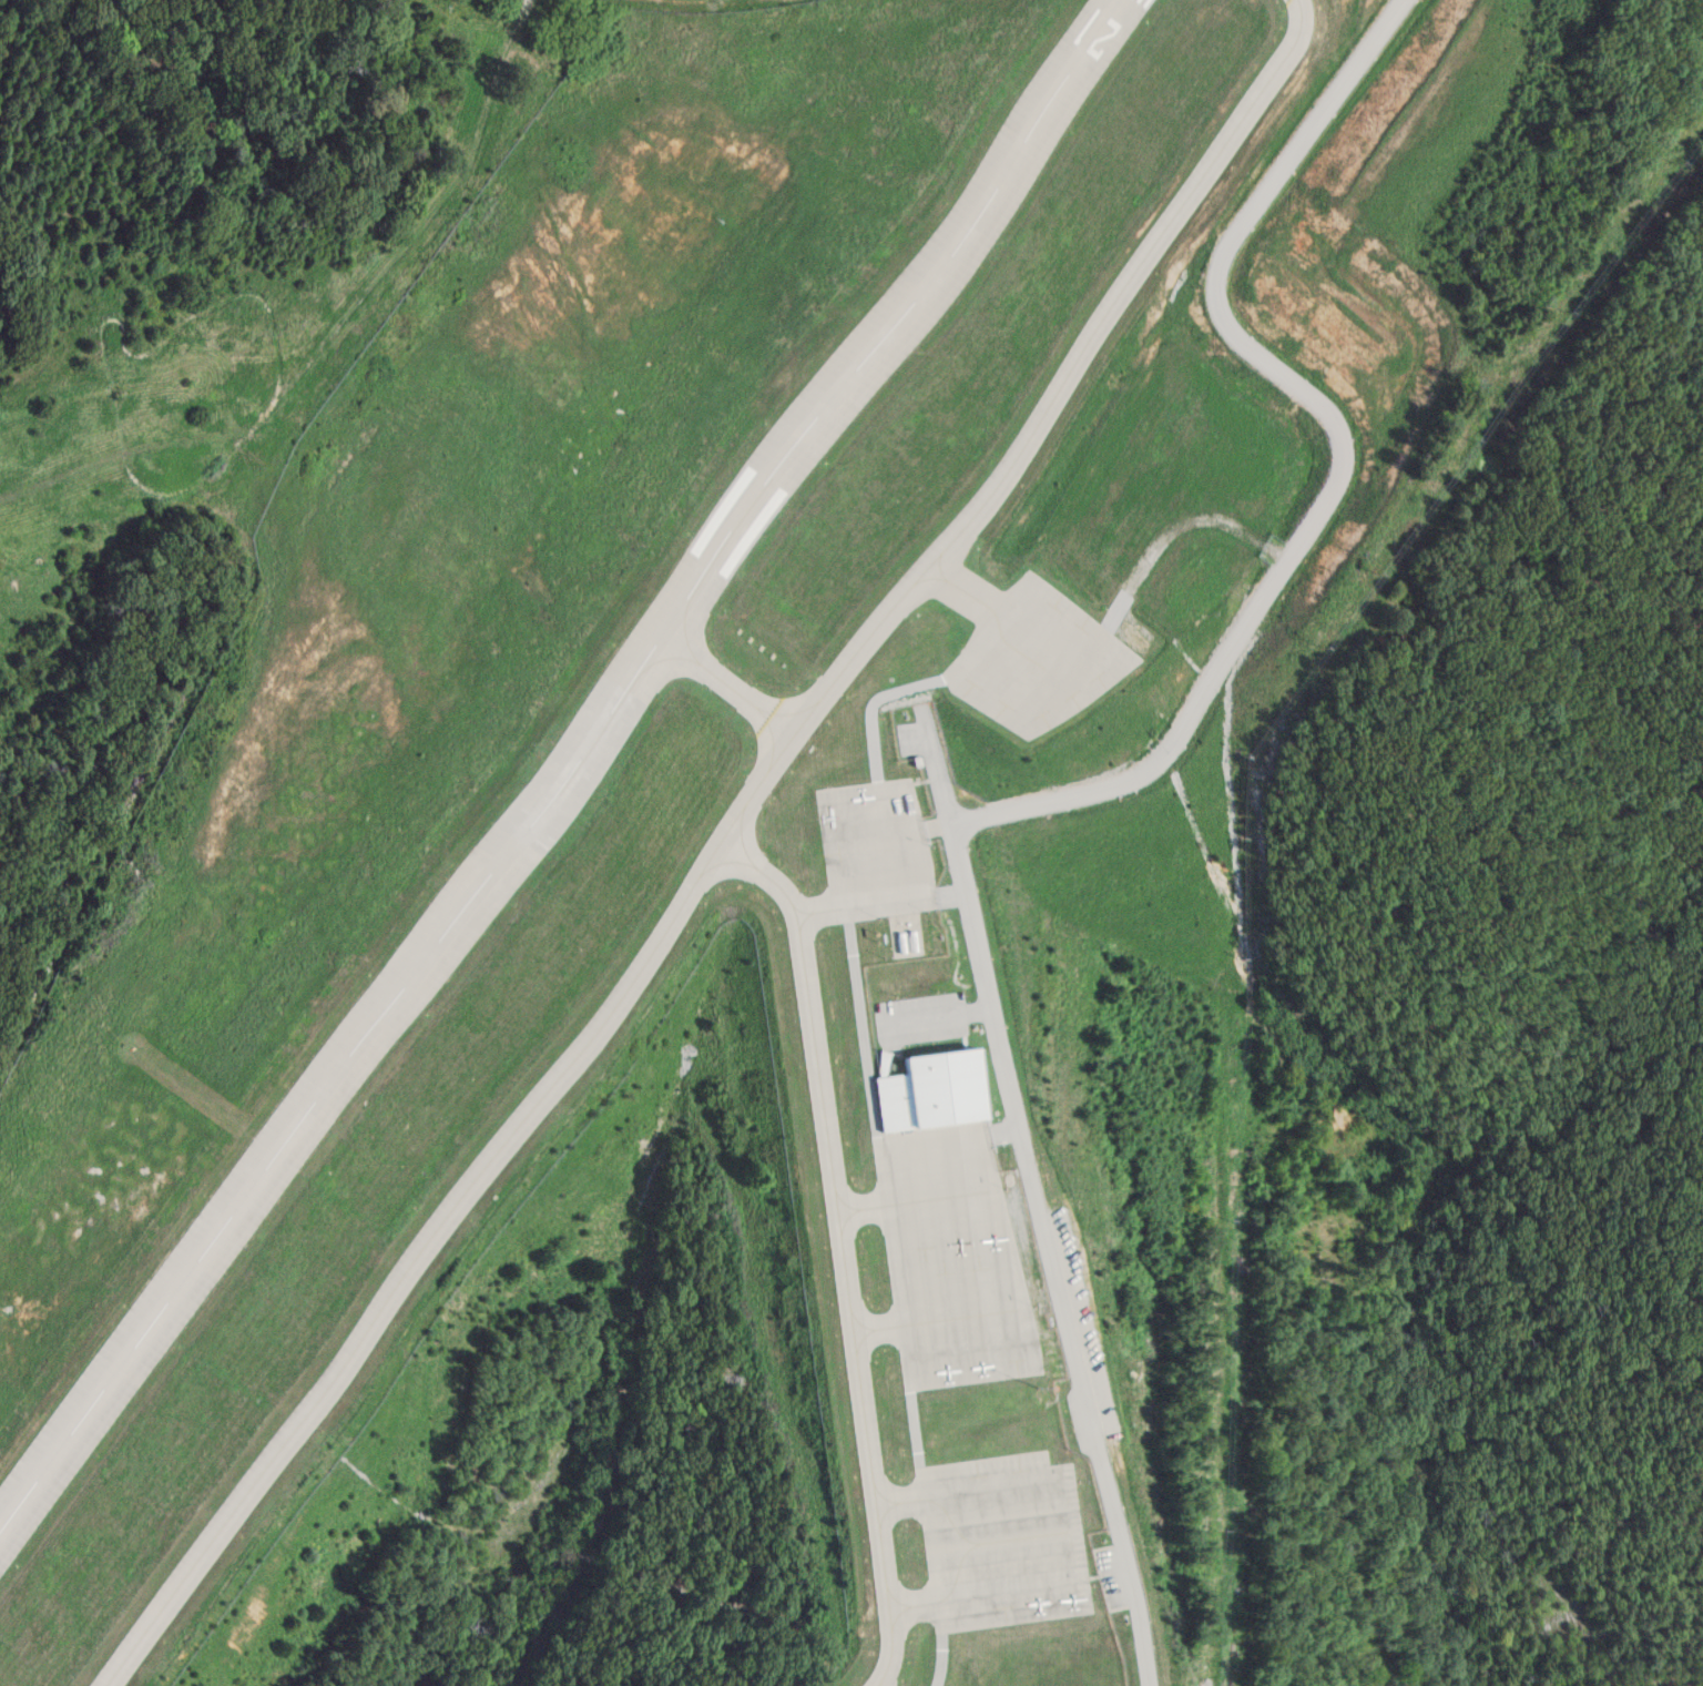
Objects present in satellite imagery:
road: (1337, 458)
airport apron: (1031, 653)
airport taxiway: (728, 683)
parking lot: (930, 723)
road: (944, 771)
airport runway: (562, 773)
airport taxiway: (710, 846)
airport apron: (874, 850)
airport taxiway: (809, 910)
road: (935, 1016)
parking lot: (918, 1017)
airport hangar: (934, 1094)
building: (934, 1094)
airport taxiway: (853, 1210)
airport taxiway: (833, 1245)
road: (1044, 1255)
airport apron: (947, 1260)
airport taxiway: (867, 1328)
airport taxiway: (888, 1504)
airport apron: (998, 1540)
airport taxiway: (900, 1606)

